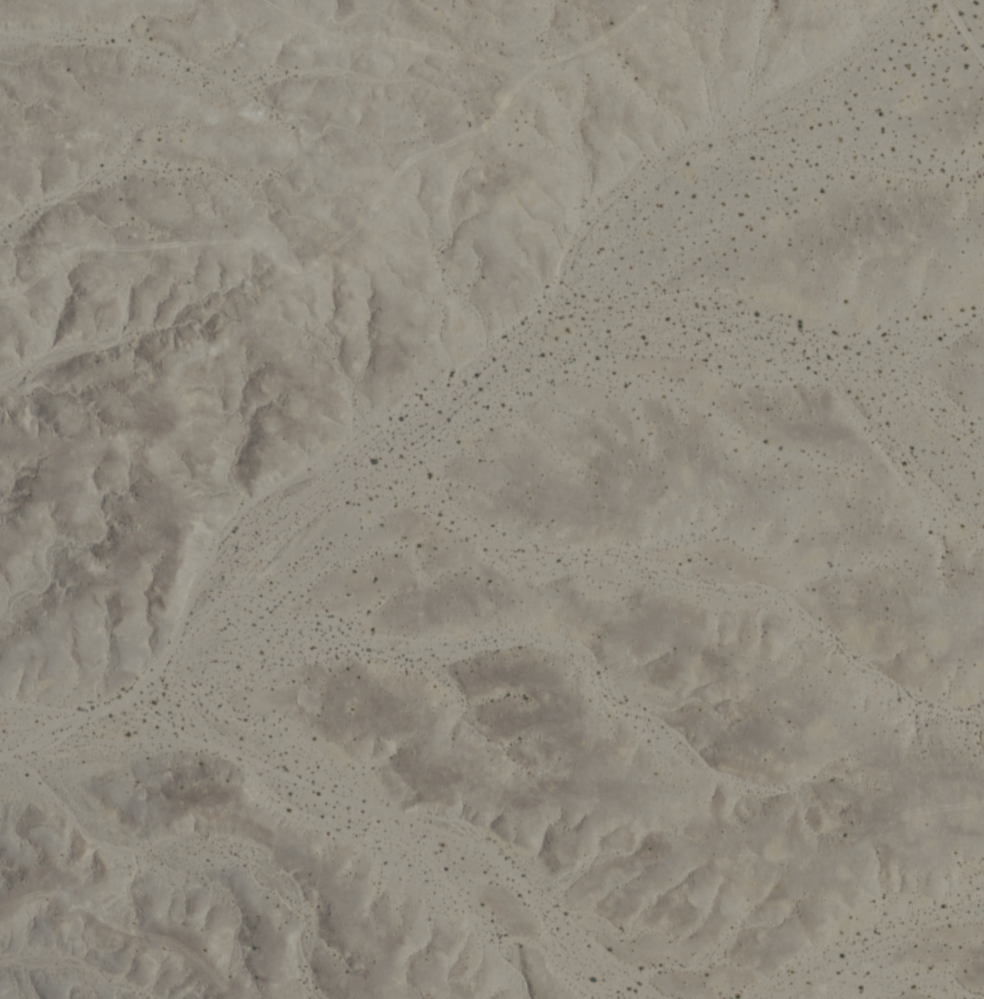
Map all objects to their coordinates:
road: (966, 29)

